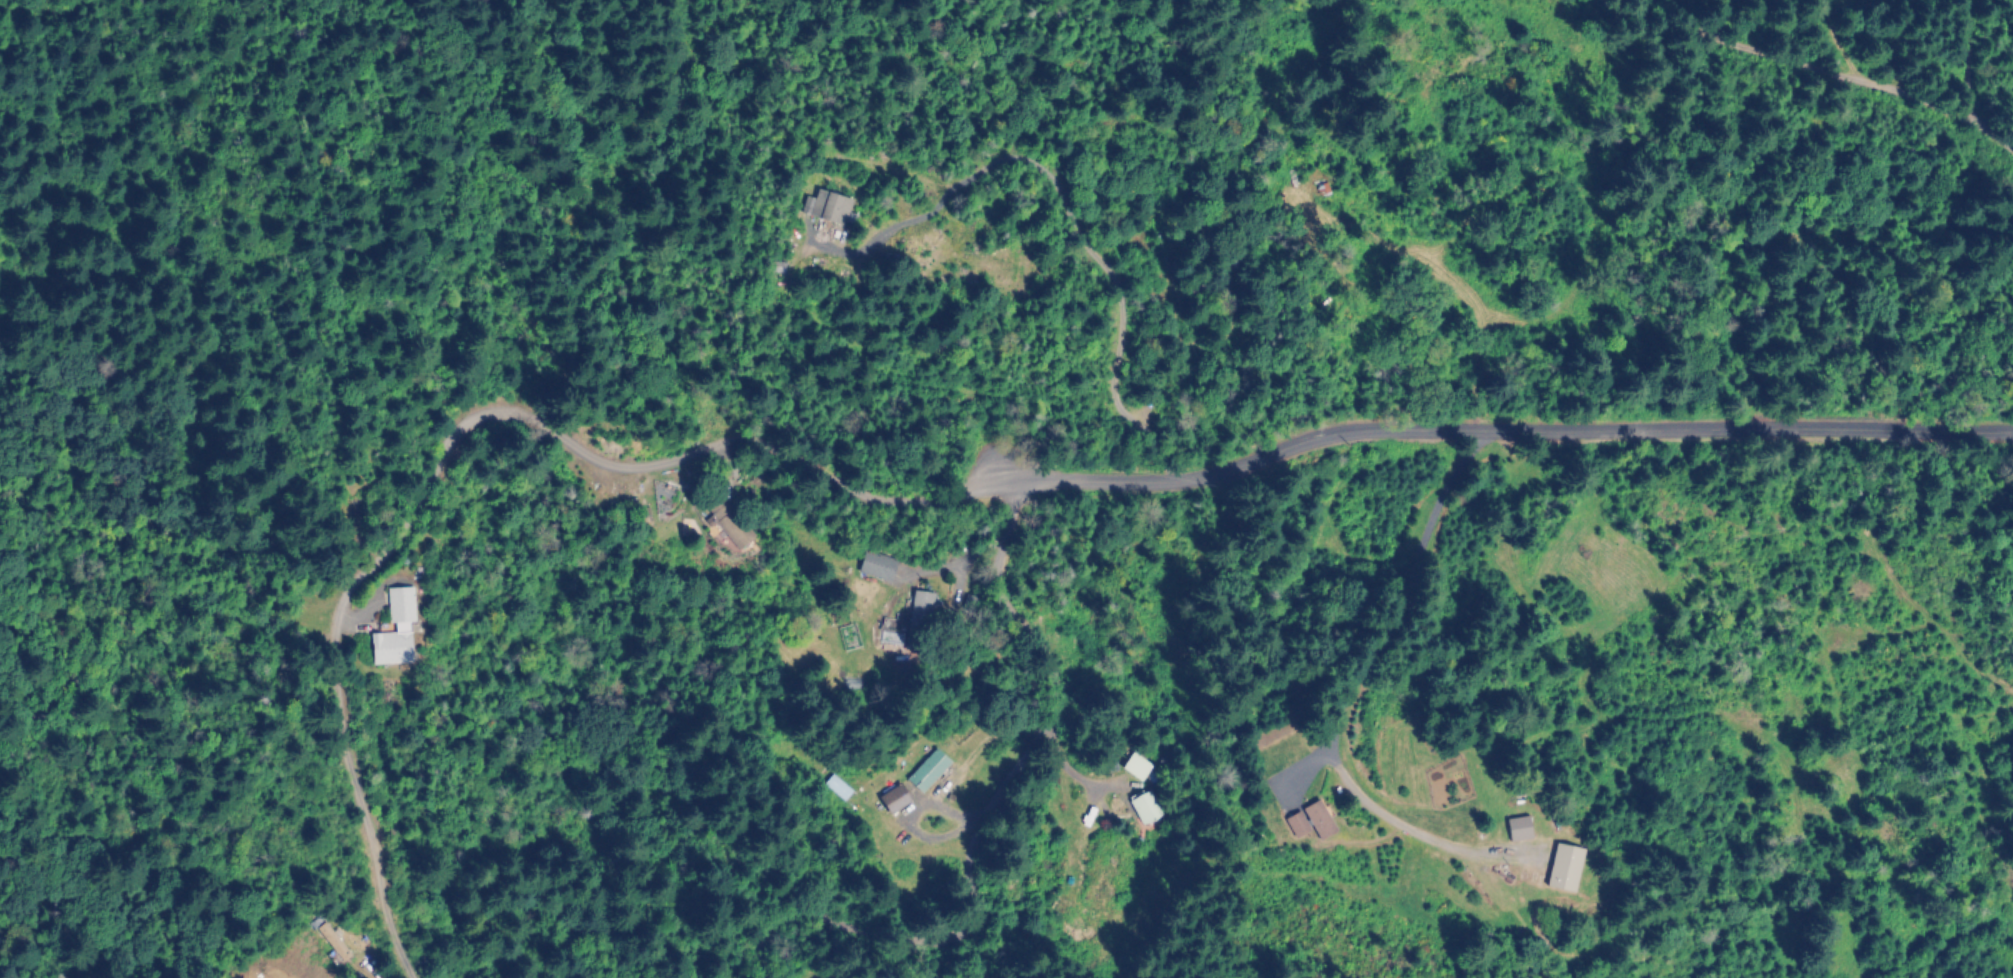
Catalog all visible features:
road: (1838, 69)
building: (828, 209)
building: (1244, 346)
road: (1383, 438)
building: (728, 527)
road: (393, 539)
building: (877, 568)
road: (359, 614)
building: (919, 623)
building: (400, 624)
road: (1339, 680)
building: (1136, 769)
building: (928, 773)
building: (894, 801)
road: (993, 806)
building: (1145, 811)
building: (1311, 825)
building: (1519, 830)
building: (1565, 870)
building: (331, 945)

